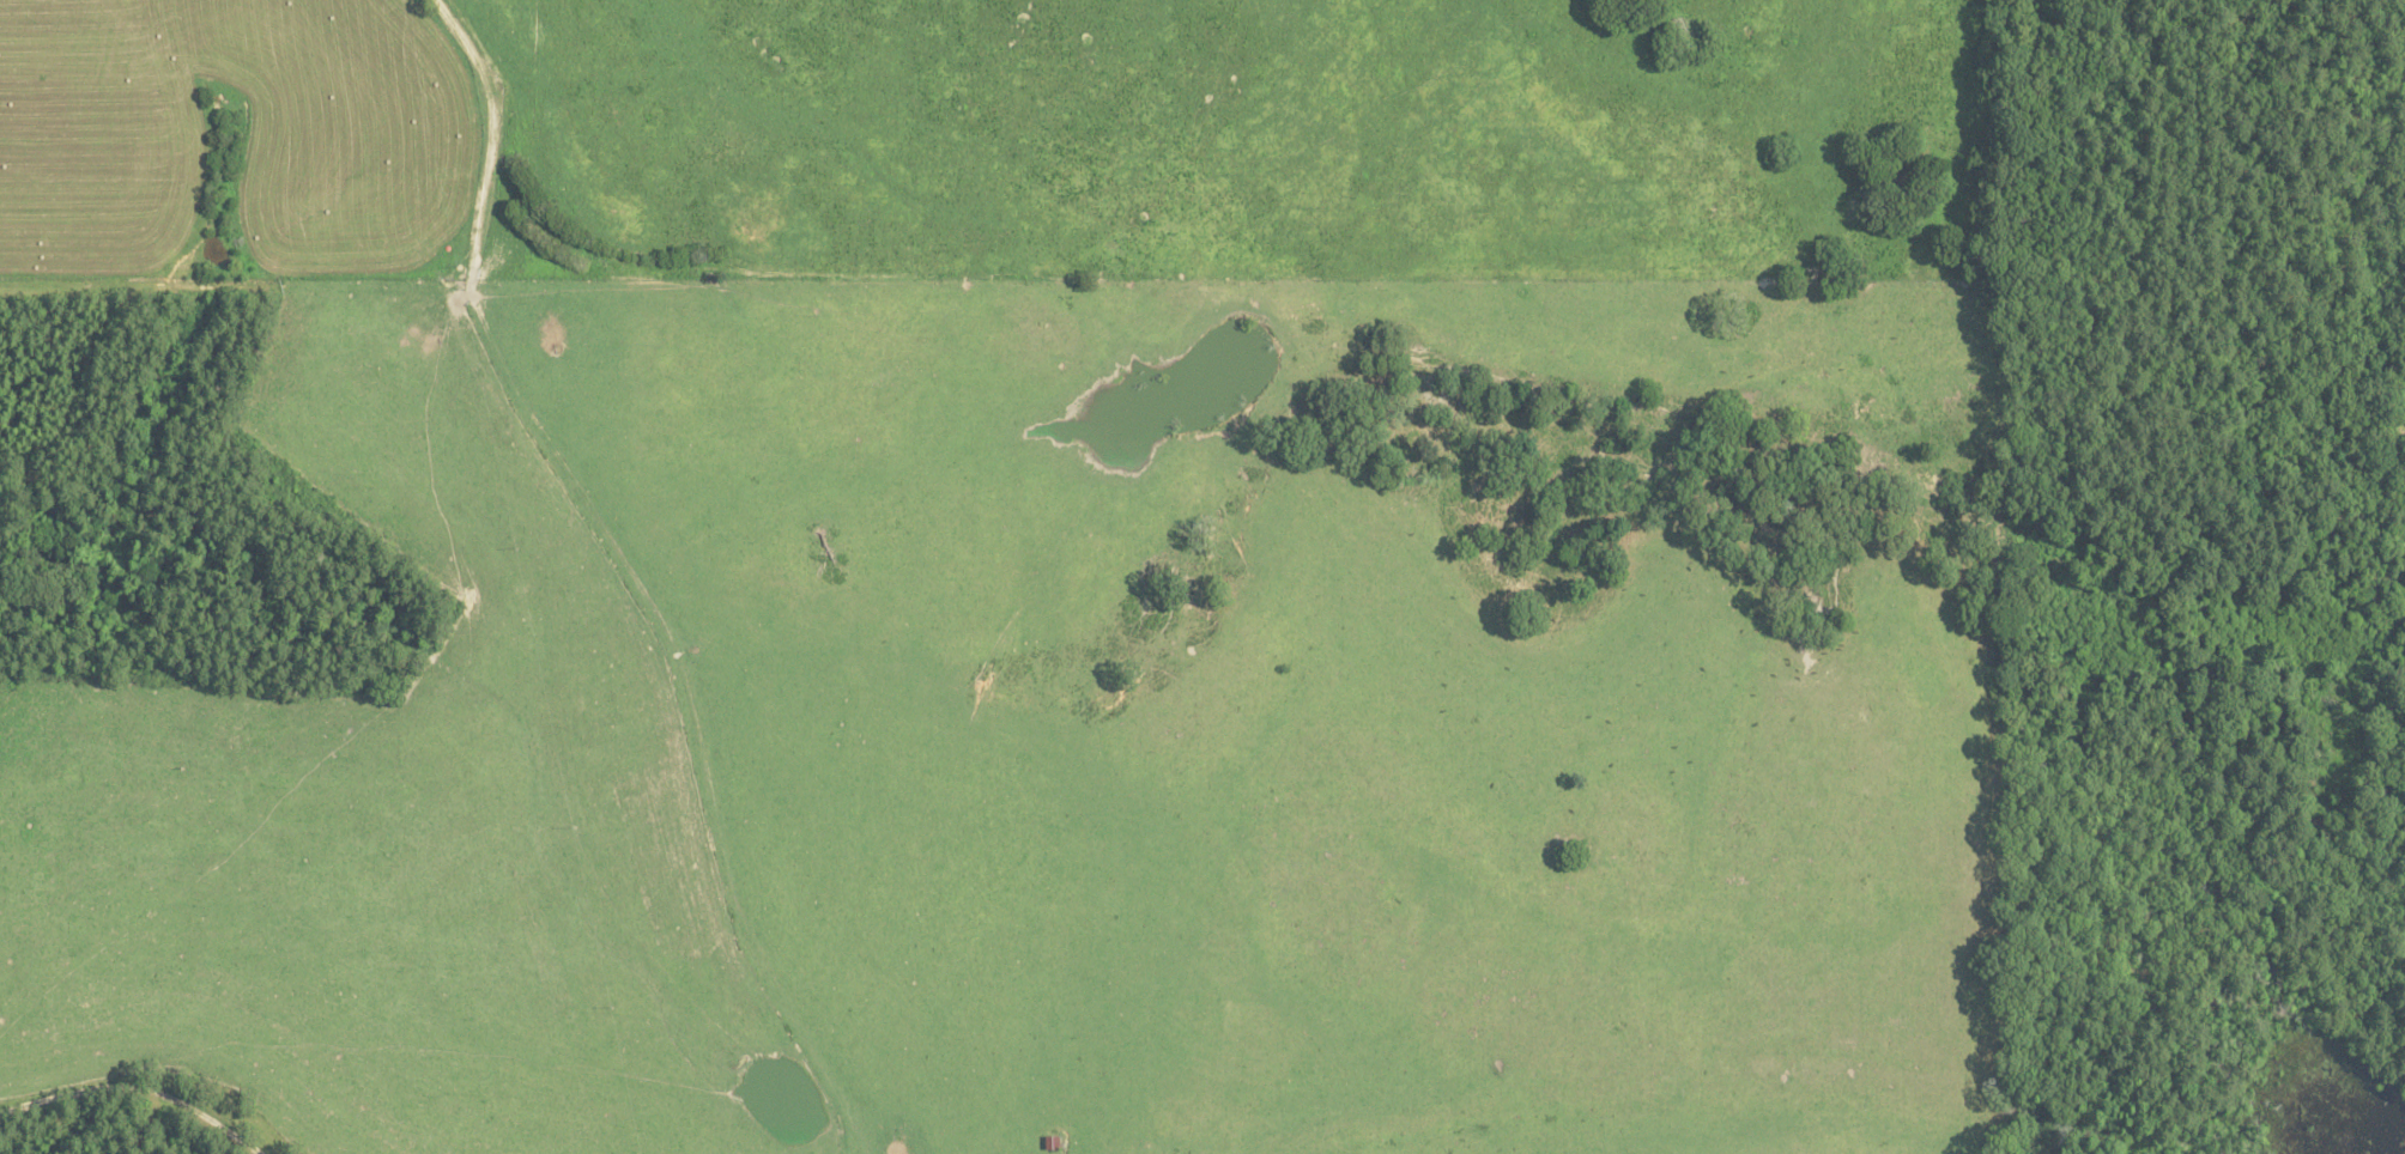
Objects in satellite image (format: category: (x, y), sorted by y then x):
building: (2403, 415)

